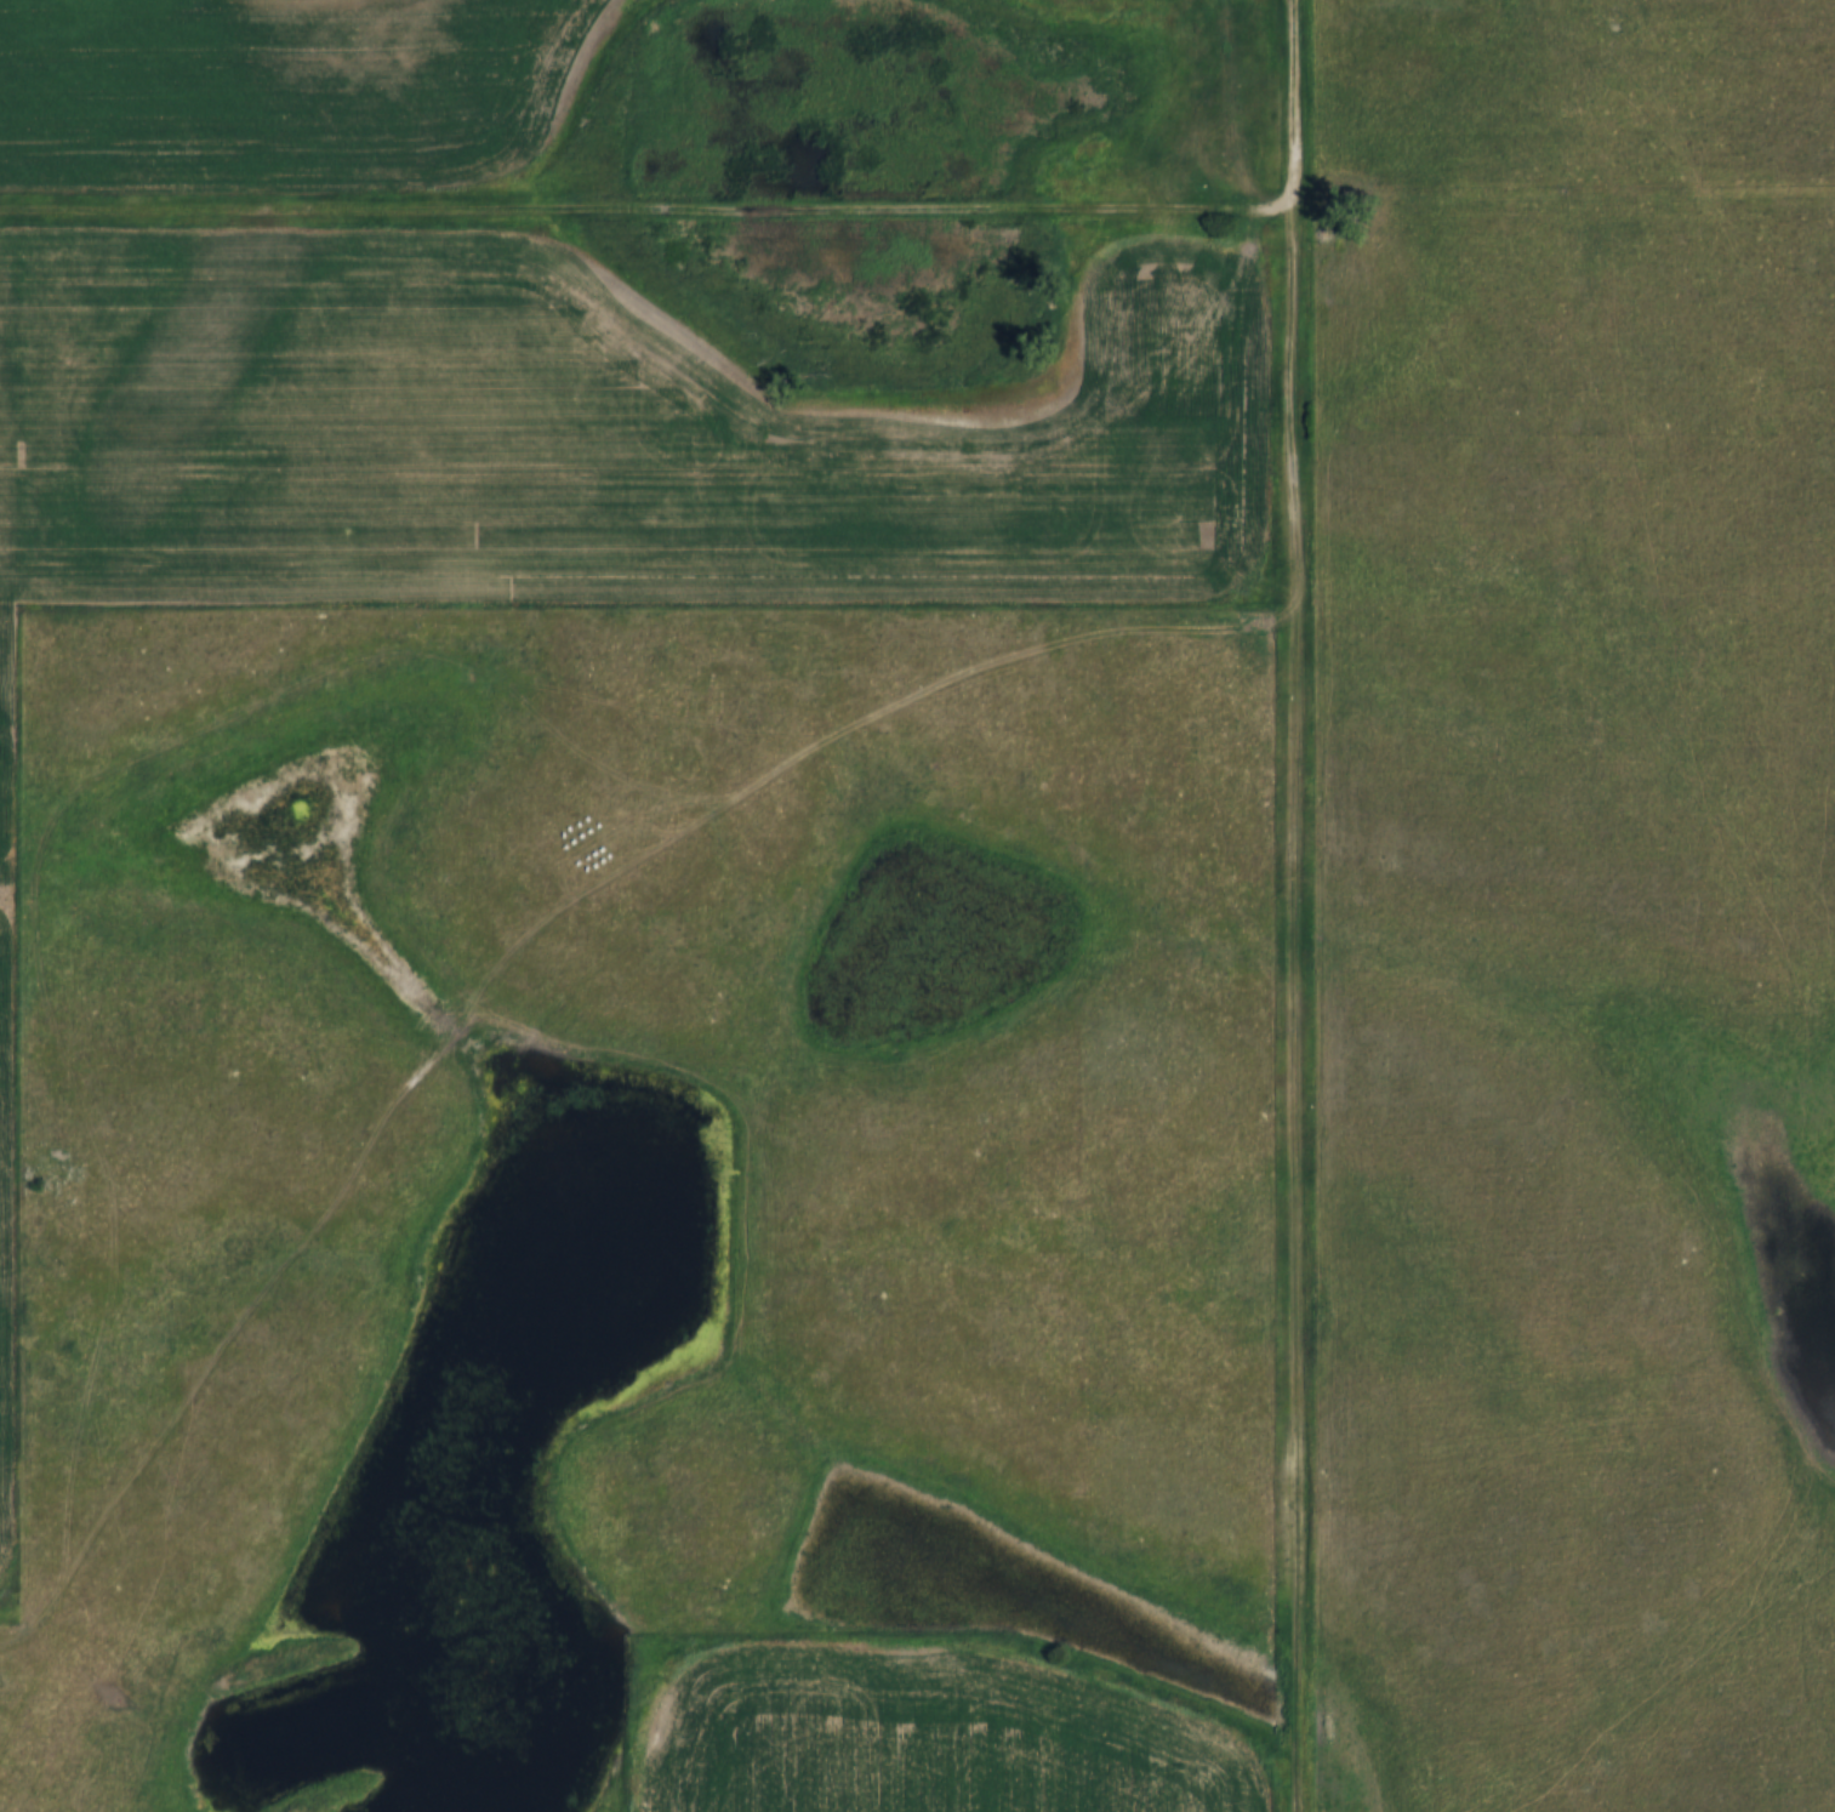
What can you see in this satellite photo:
road: (648, 209)
road: (1297, 905)

